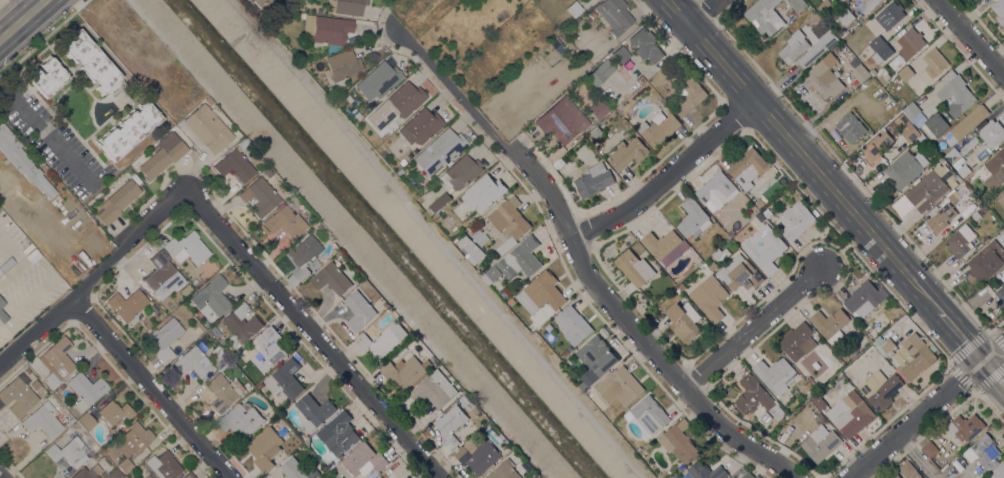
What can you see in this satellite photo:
building: (831, 0)
road: (1, 1)
building: (825, 3)
building: (262, 4)
building: (798, 5)
building: (346, 6)
building: (866, 6)
building: (574, 8)
building: (820, 8)
building: (318, 10)
building: (999, 10)
road: (703, 12)
building: (592, 13)
building: (300, 14)
building: (614, 15)
building: (890, 15)
building: (764, 16)
building: (846, 16)
road: (21, 19)
building: (587, 19)
railway: (26, 23)
building: (326, 30)
building: (843, 33)
building: (565, 34)
road: (969, 39)
building: (912, 42)
building: (819, 43)
building: (876, 43)
building: (646, 45)
building: (794, 46)
building: (882, 53)
building: (620, 54)
building: (298, 56)
building: (92, 62)
building: (935, 62)
building: (341, 66)
building: (601, 71)
building: (859, 71)
building: (873, 71)
building: (906, 73)
building: (47, 76)
building: (823, 77)
building: (378, 80)
building: (956, 93)
building: (689, 96)
building: (207, 99)
building: (402, 100)
building: (337, 101)
building: (368, 106)
building: (597, 109)
building: (879, 109)
building: (911, 110)
building: (850, 120)
building: (562, 121)
building: (966, 124)
road: (42, 125)
building: (934, 125)
building: (419, 126)
building: (207, 128)
building: (658, 128)
building: (907, 128)
building: (128, 129)
building: (596, 131)
building: (992, 133)
building: (923, 139)
building: (877, 147)
building: (377, 149)
building: (439, 150)
building: (381, 153)
building: (627, 153)
road: (802, 155)
building: (953, 156)
building: (162, 158)
building: (23, 161)
building: (941, 161)
building: (234, 163)
building: (748, 167)
building: (905, 168)
building: (966, 169)
building: (995, 170)
building: (267, 171)
building: (397, 171)
building: (460, 173)
road: (668, 176)
building: (594, 180)
building: (717, 191)
building: (927, 191)
building: (964, 191)
building: (484, 192)
building: (259, 196)
building: (418, 196)
building: (1001, 197)
building: (117, 201)
building: (440, 203)
building: (760, 203)
building: (768, 213)
building: (758, 215)
building: (976, 215)
building: (510, 218)
building: (694, 219)
building: (936, 220)
building: (283, 221)
building: (796, 221)
building: (312, 222)
building: (756, 223)
building: (316, 226)
building: (732, 230)
road: (441, 239)
building: (960, 240)
building: (507, 245)
building: (665, 246)
building: (187, 247)
building: (765, 248)
building: (473, 250)
building: (716, 253)
building: (303, 255)
building: (521, 258)
building: (986, 261)
road: (580, 263)
building: (6, 264)
building: (713, 265)
building: (634, 267)
building: (496, 272)
building: (739, 273)
road: (93, 275)
building: (162, 275)
building: (333, 278)
building: (488, 279)
building: (185, 289)
building: (542, 293)
building: (211, 295)
building: (710, 297)
building: (999, 297)
building: (863, 299)
building: (2, 301)
building: (512, 301)
building: (127, 303)
building: (360, 310)
building: (3, 316)
building: (684, 322)
building: (704, 323)
building: (831, 324)
building: (241, 325)
building: (574, 325)
road: (751, 329)
building: (214, 330)
road: (313, 334)
building: (166, 337)
road: (957, 338)
building: (380, 343)
building: (805, 344)
building: (883, 345)
building: (268, 349)
building: (217, 351)
building: (566, 352)
building: (915, 356)
building: (57, 360)
building: (596, 360)
building: (194, 362)
traffic signals: (980, 365)
building: (407, 371)
building: (830, 371)
building: (775, 374)
road: (992, 378)
building: (285, 379)
building: (35, 384)
building: (62, 385)
building: (259, 385)
road: (150, 386)
building: (621, 387)
building: (803, 387)
building: (86, 388)
building: (881, 388)
building: (436, 389)
building: (224, 392)
building: (18, 394)
building: (755, 396)
building: (819, 401)
building: (471, 405)
building: (314, 411)
road: (929, 411)
building: (113, 412)
building: (651, 414)
building: (854, 415)
building: (819, 417)
building: (43, 419)
building: (70, 421)
building: (86, 421)
building: (241, 421)
building: (452, 425)
building: (965, 427)
building: (338, 433)
building: (294, 438)
building: (679, 442)
building: (132, 443)
building: (820, 443)
building: (265, 448)
building: (930, 449)
building: (506, 450)
building: (982, 450)
building: (69, 451)
building: (481, 453)
road: (917, 458)
building: (363, 460)
building: (163, 464)
building: (296, 469)
building: (505, 470)
building: (909, 470)
building: (707, 471)
building: (950, 471)
building: (999, 471)
building: (87, 472)
building: (112, 473)
building: (388, 474)
building: (189, 475)
building: (749, 475)
building: (894, 475)
road: (0, 477)
building: (379, 477)

